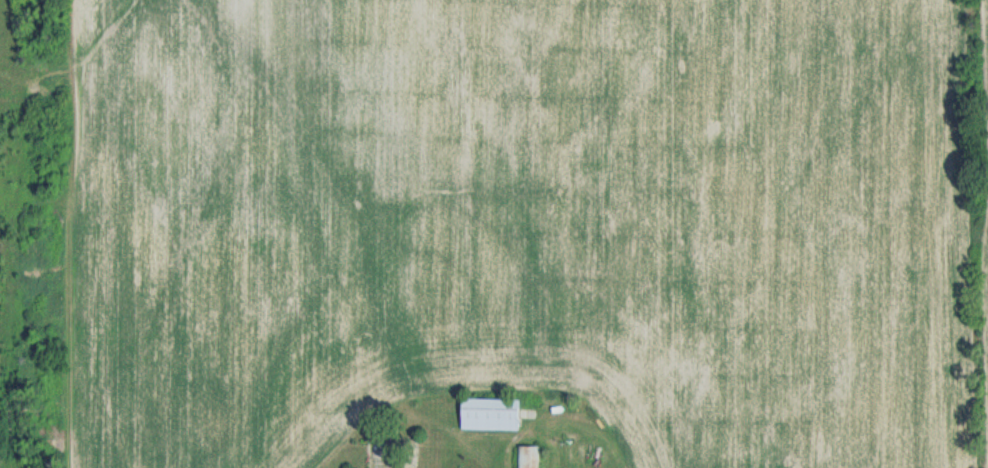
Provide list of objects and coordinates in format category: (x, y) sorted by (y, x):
crop: (512, 225)
building: (492, 414)
building: (529, 457)

